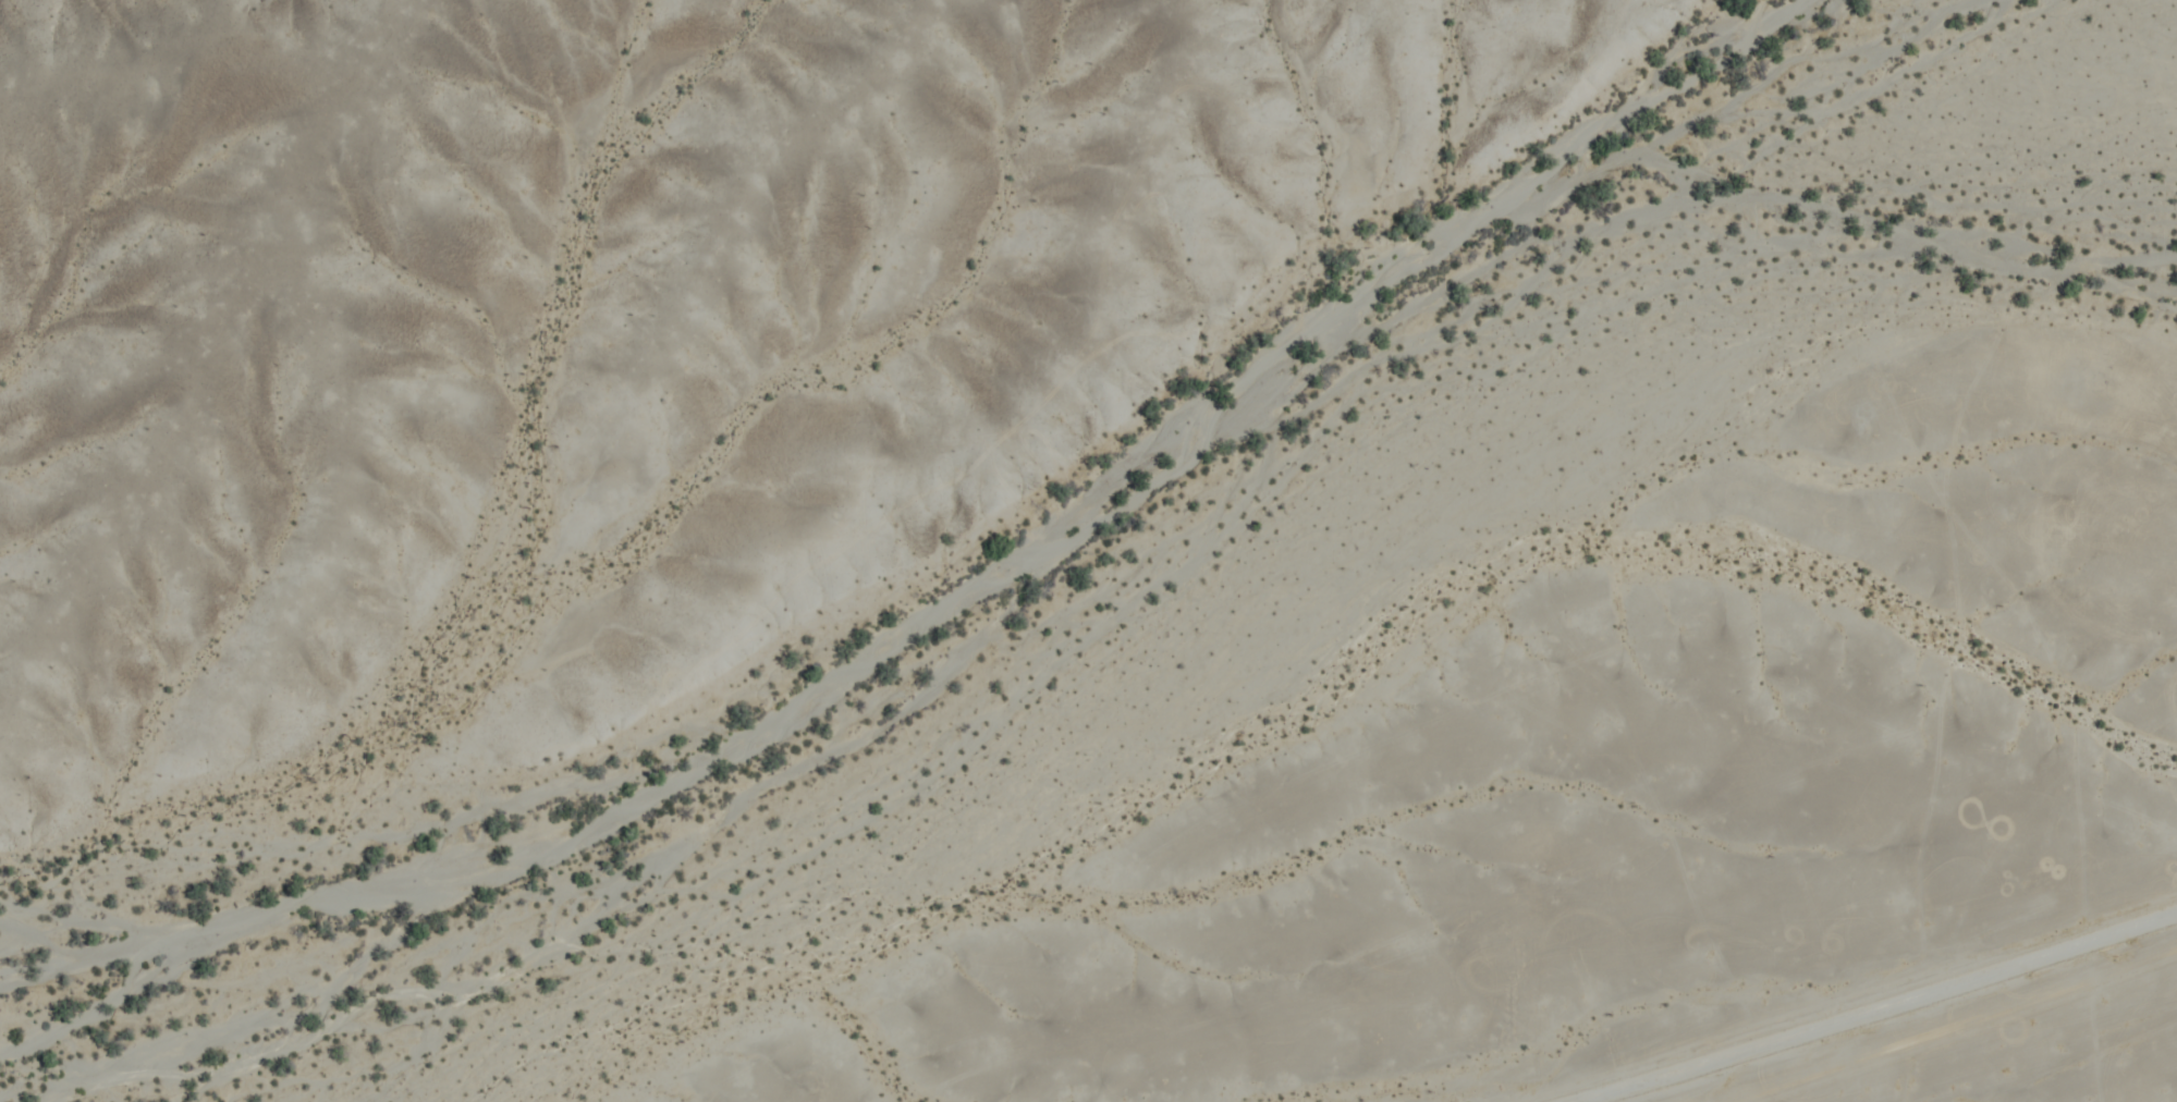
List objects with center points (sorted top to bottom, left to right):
road: (1948, 1023)

